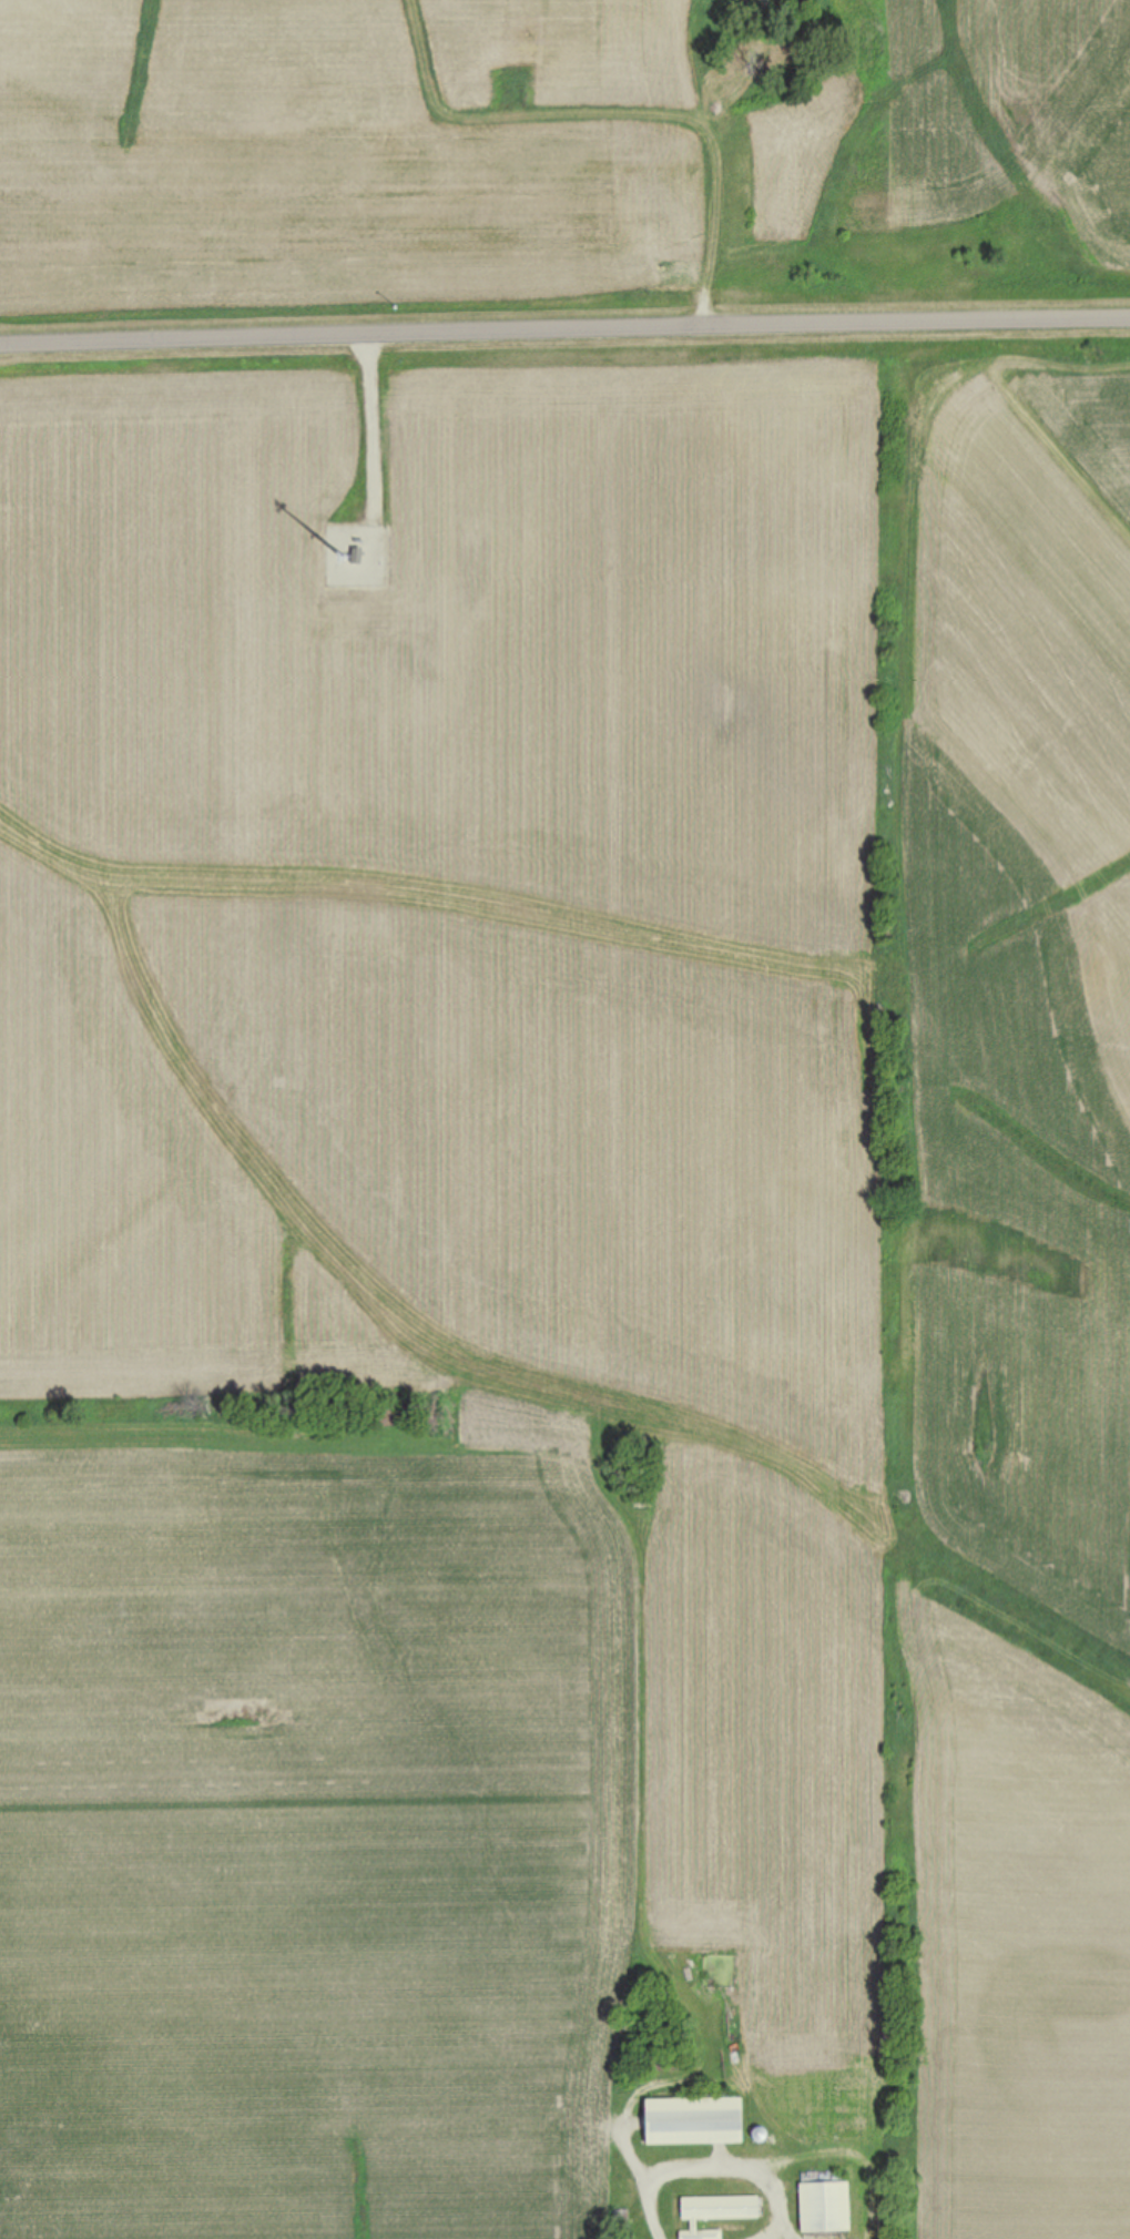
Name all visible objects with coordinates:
road: (564, 334)
building: (696, 2121)
building: (826, 2207)
building: (717, 2213)
building: (622, 2221)

